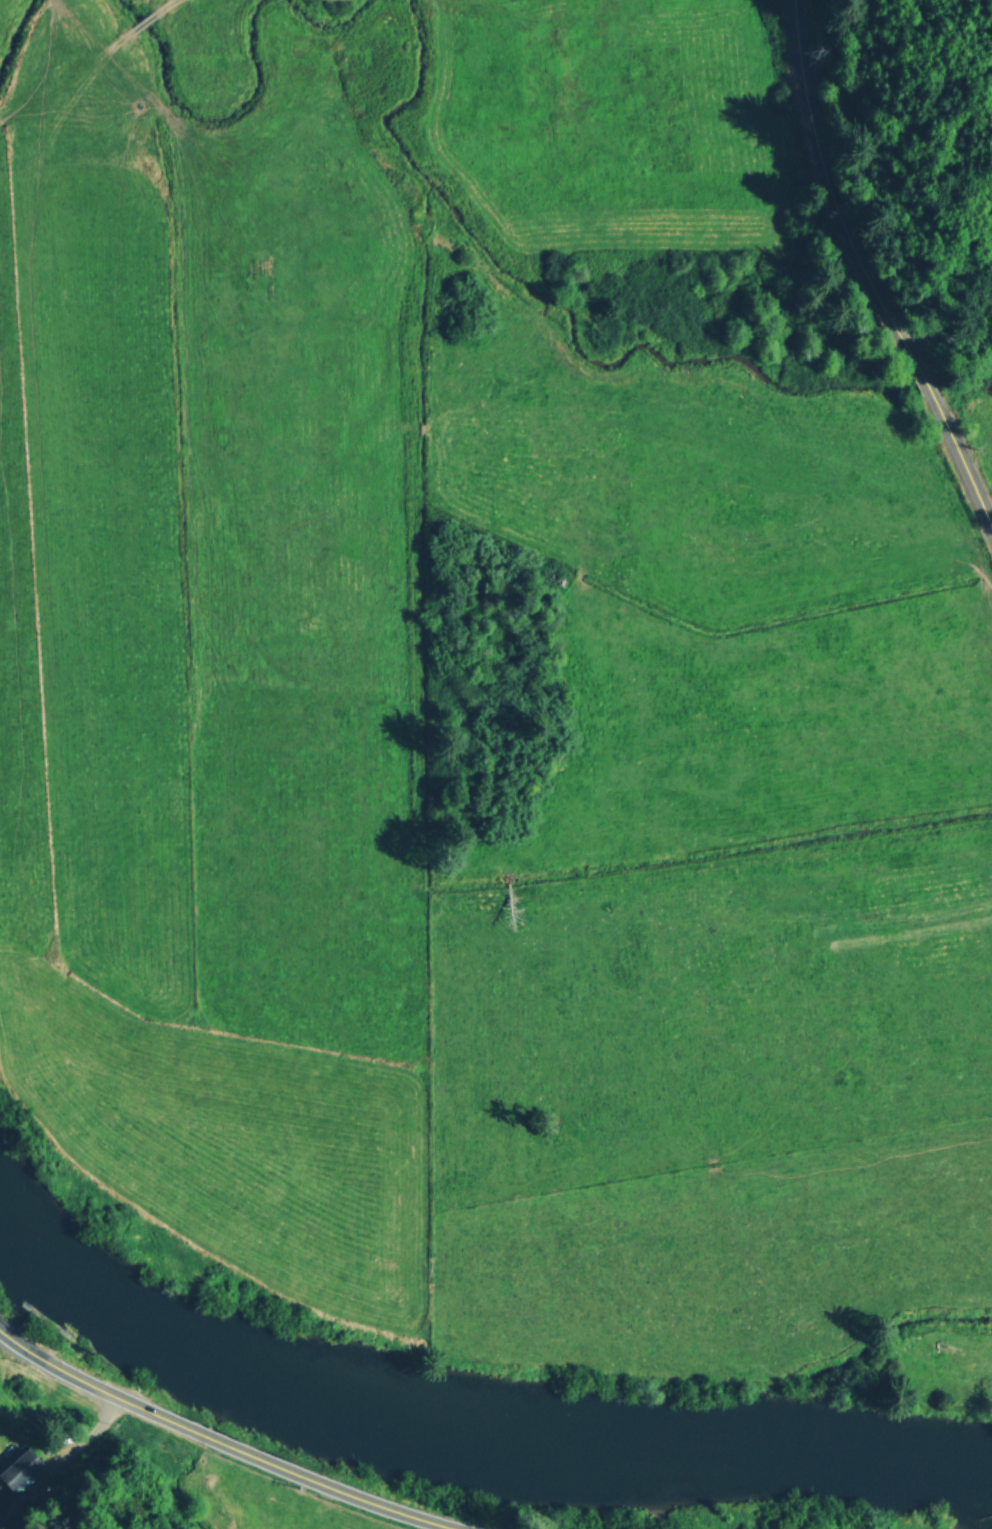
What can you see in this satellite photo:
road: (166, 4)
road: (864, 274)
road: (946, 324)
crop: (483, 699)
road: (227, 1442)
river: (466, 1448)
building: (19, 1468)
crop: (283, 1502)

